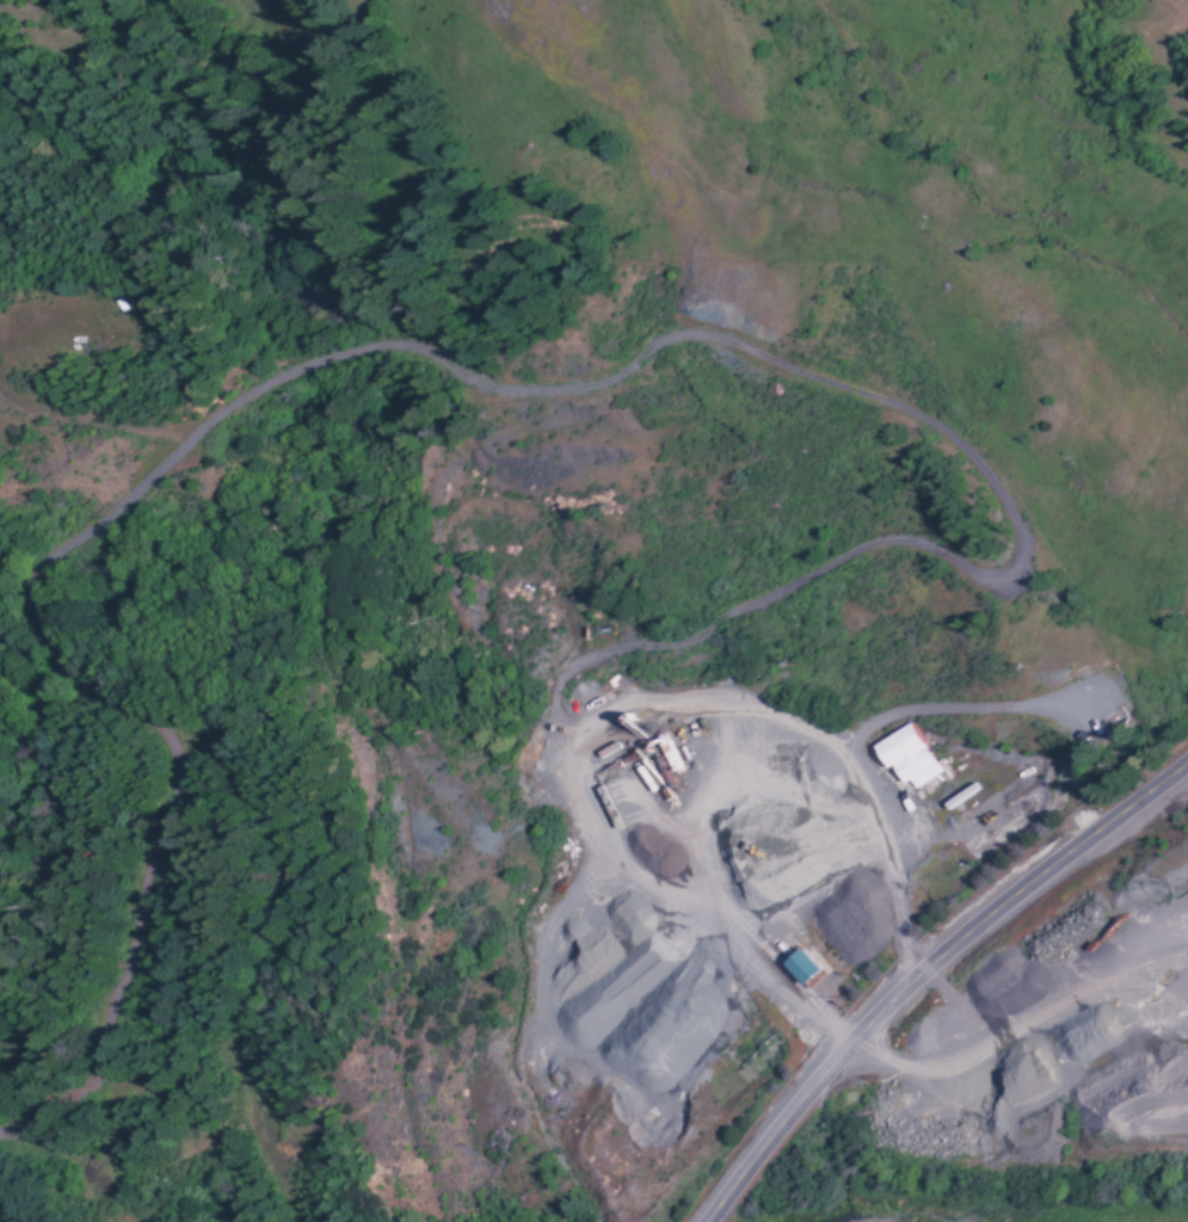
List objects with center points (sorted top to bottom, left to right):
road: (620, 718)
building: (906, 755)
road: (1011, 903)
building: (799, 965)
road: (776, 1135)

